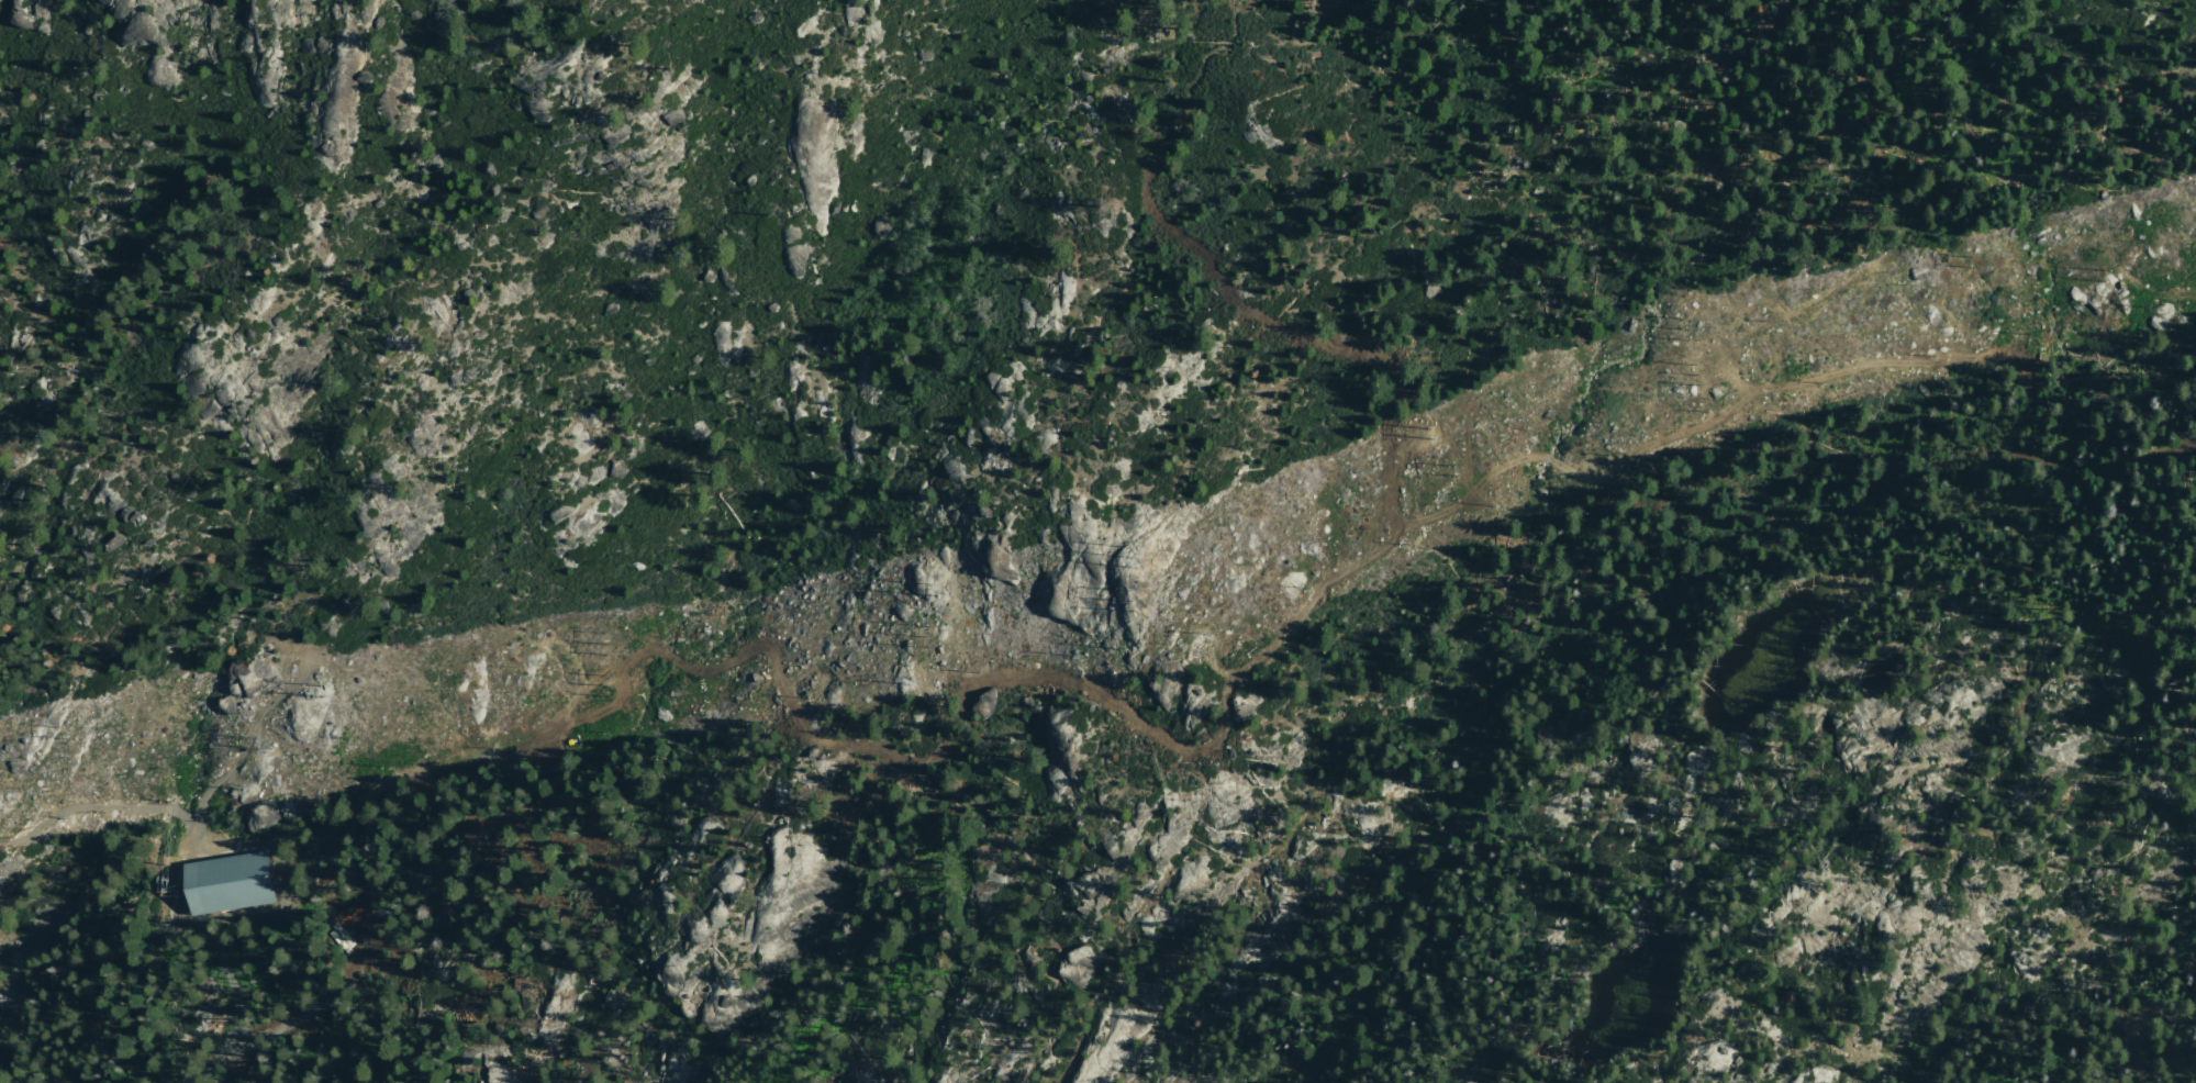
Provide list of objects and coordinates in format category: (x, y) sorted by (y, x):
power tower: (1975, 260)
power tower: (2103, 275)
power tower: (1686, 328)
power tower: (1697, 369)
power tower: (1441, 426)
power tower: (1456, 469)
power tower: (1136, 556)
power tower: (934, 587)
power tower: (1137, 601)
power tower: (929, 634)
power tower: (610, 643)
power tower: (323, 685)
power tower: (612, 685)
power tower: (65, 728)
power tower: (264, 740)
power substation: (226, 879)
building: (219, 884)
road: (289, 971)

